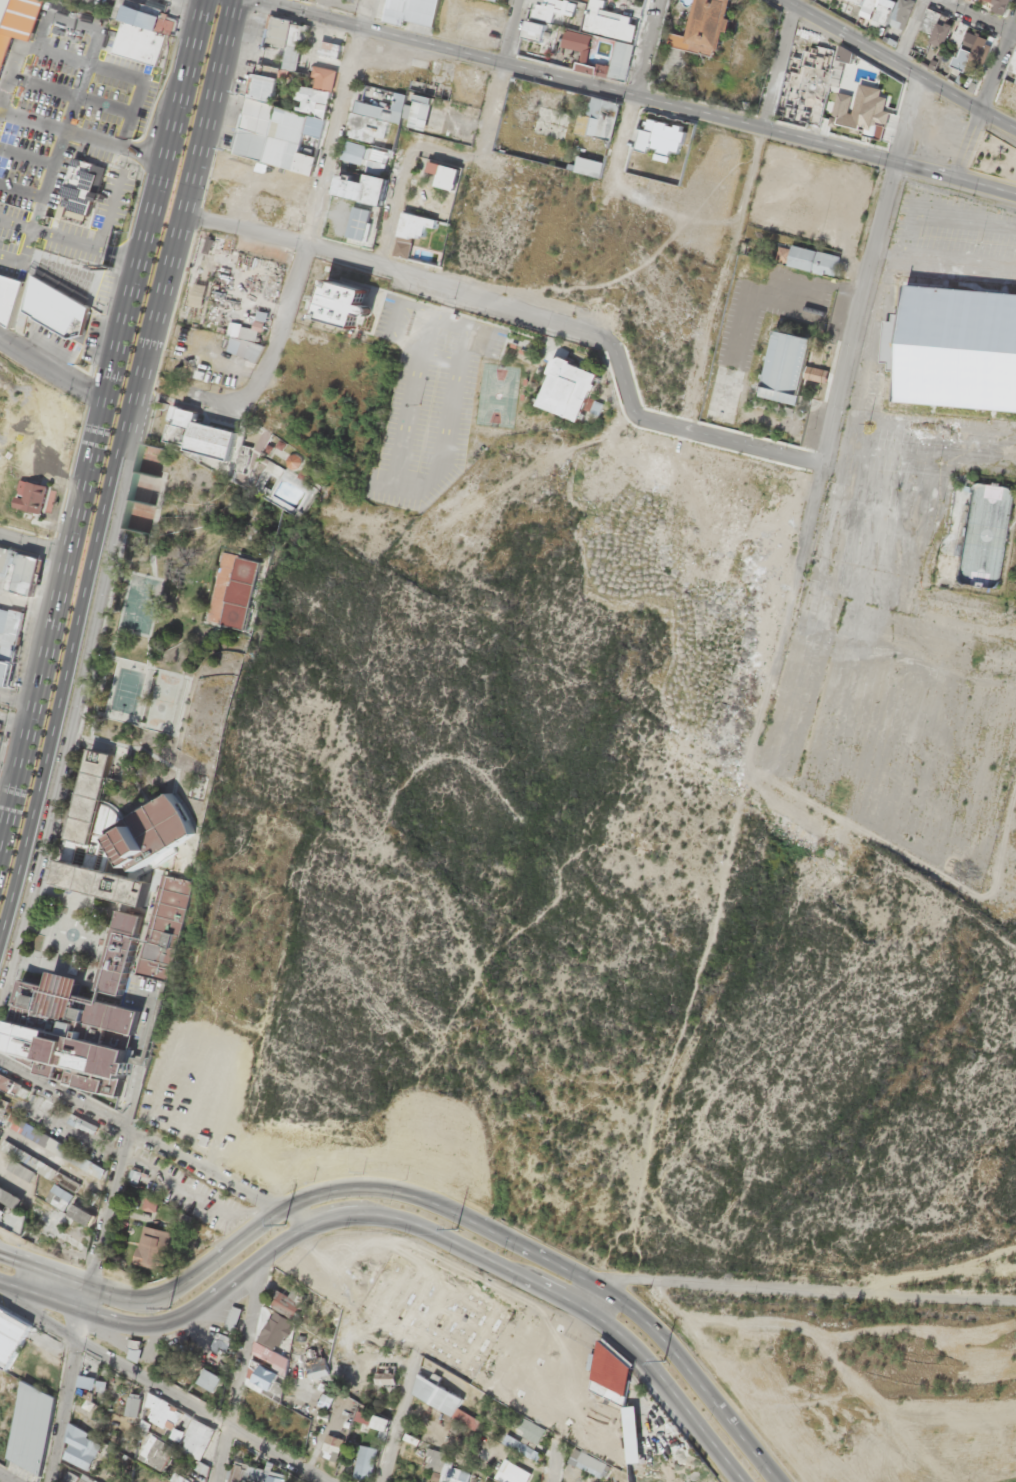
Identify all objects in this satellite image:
parking lot: (66, 152)

